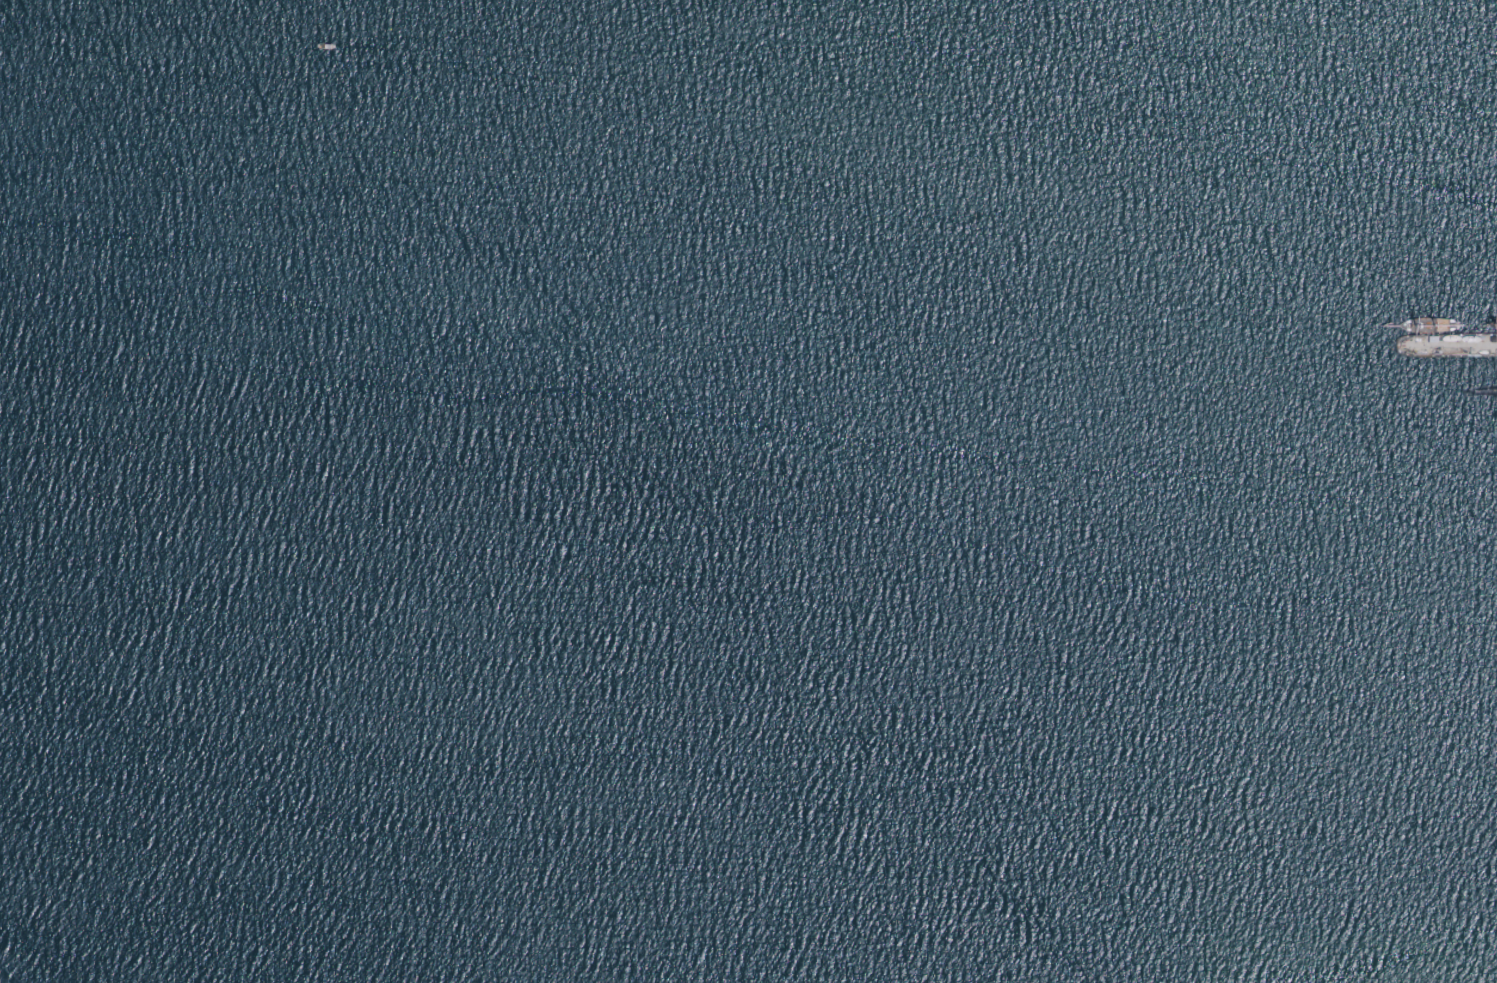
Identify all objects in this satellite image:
building: (1427, 327)
building: (1494, 327)
road: (1453, 344)
pier: (1447, 346)

